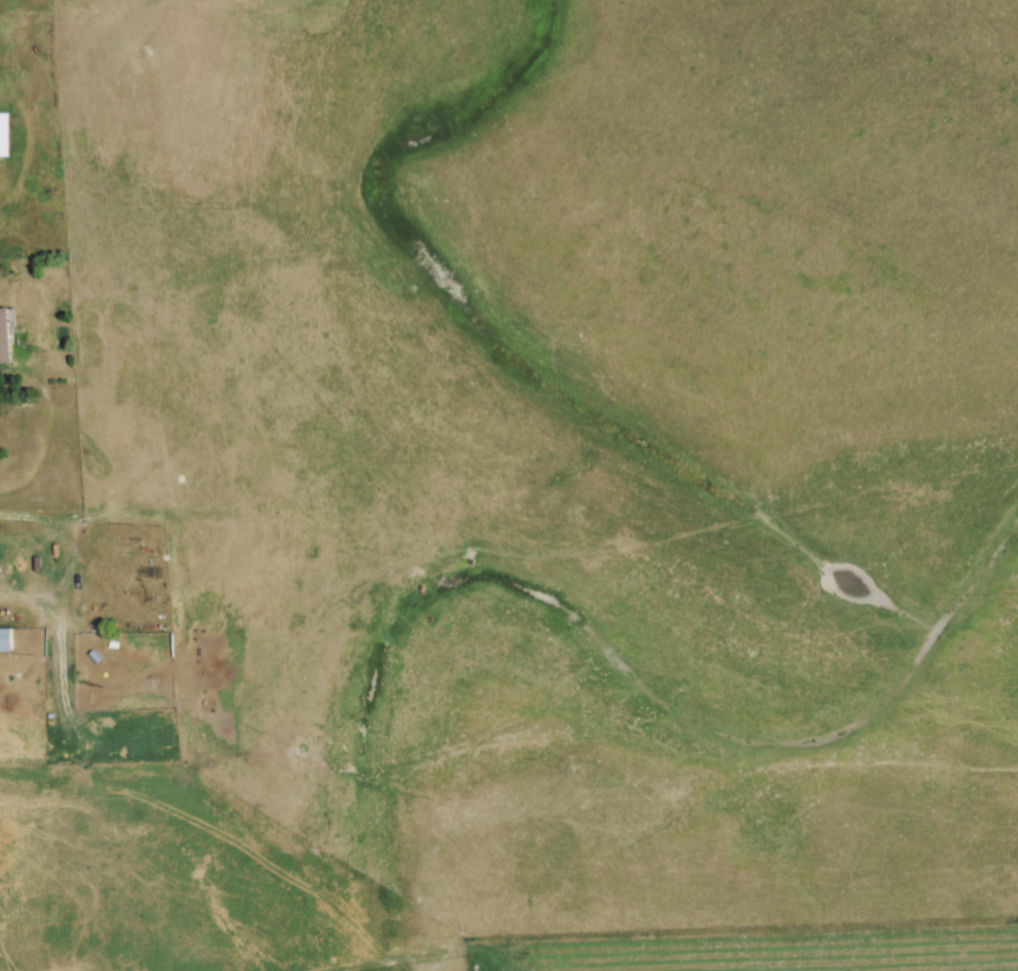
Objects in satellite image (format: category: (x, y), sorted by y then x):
building: (4, 135)
building: (6, 336)
road: (76, 567)
building: (7, 641)

